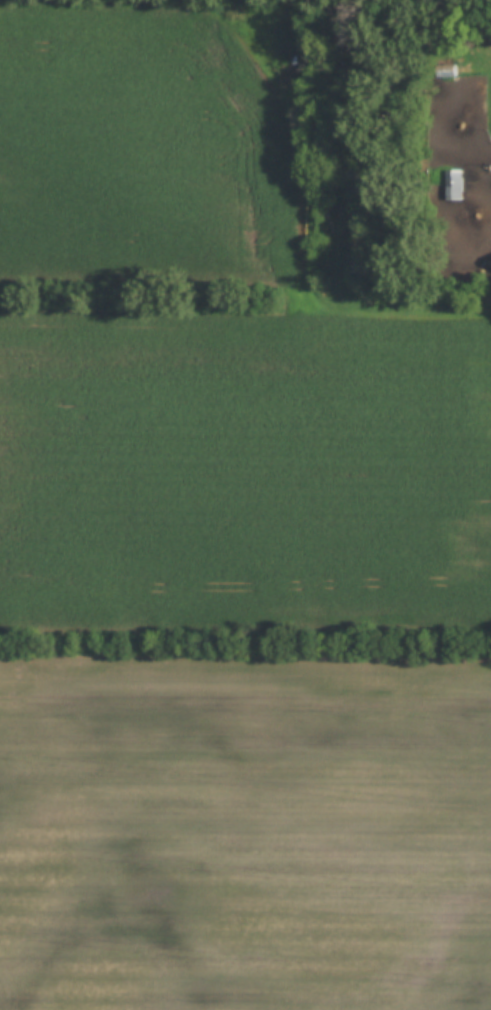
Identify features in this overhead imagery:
building: (462, 186)

